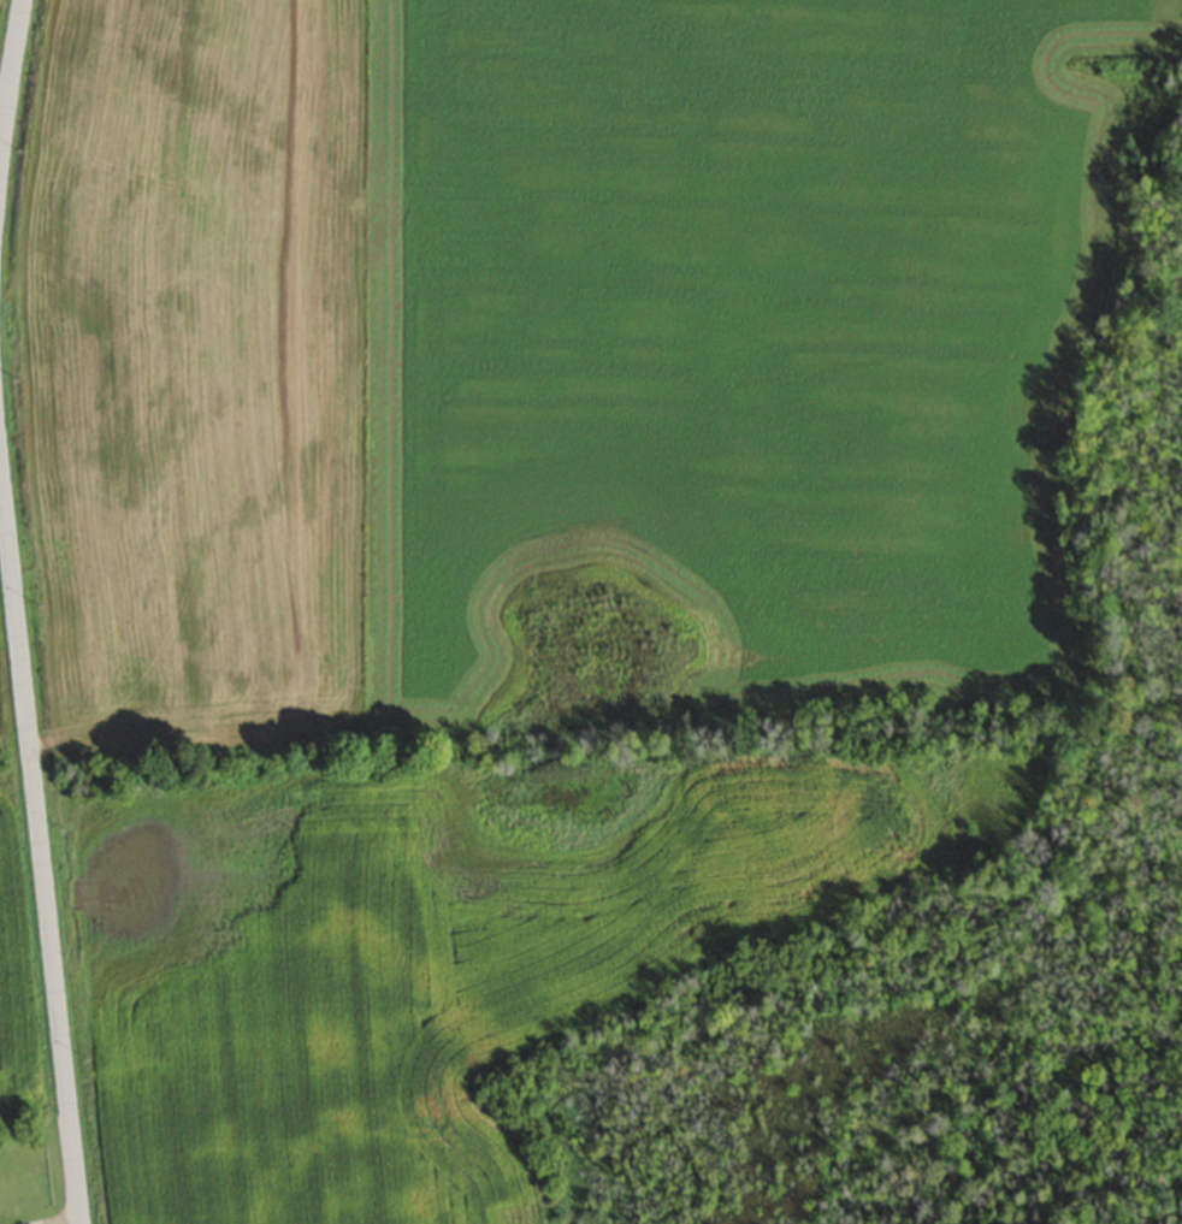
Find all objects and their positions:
road: (8, 55)
road: (39, 867)

